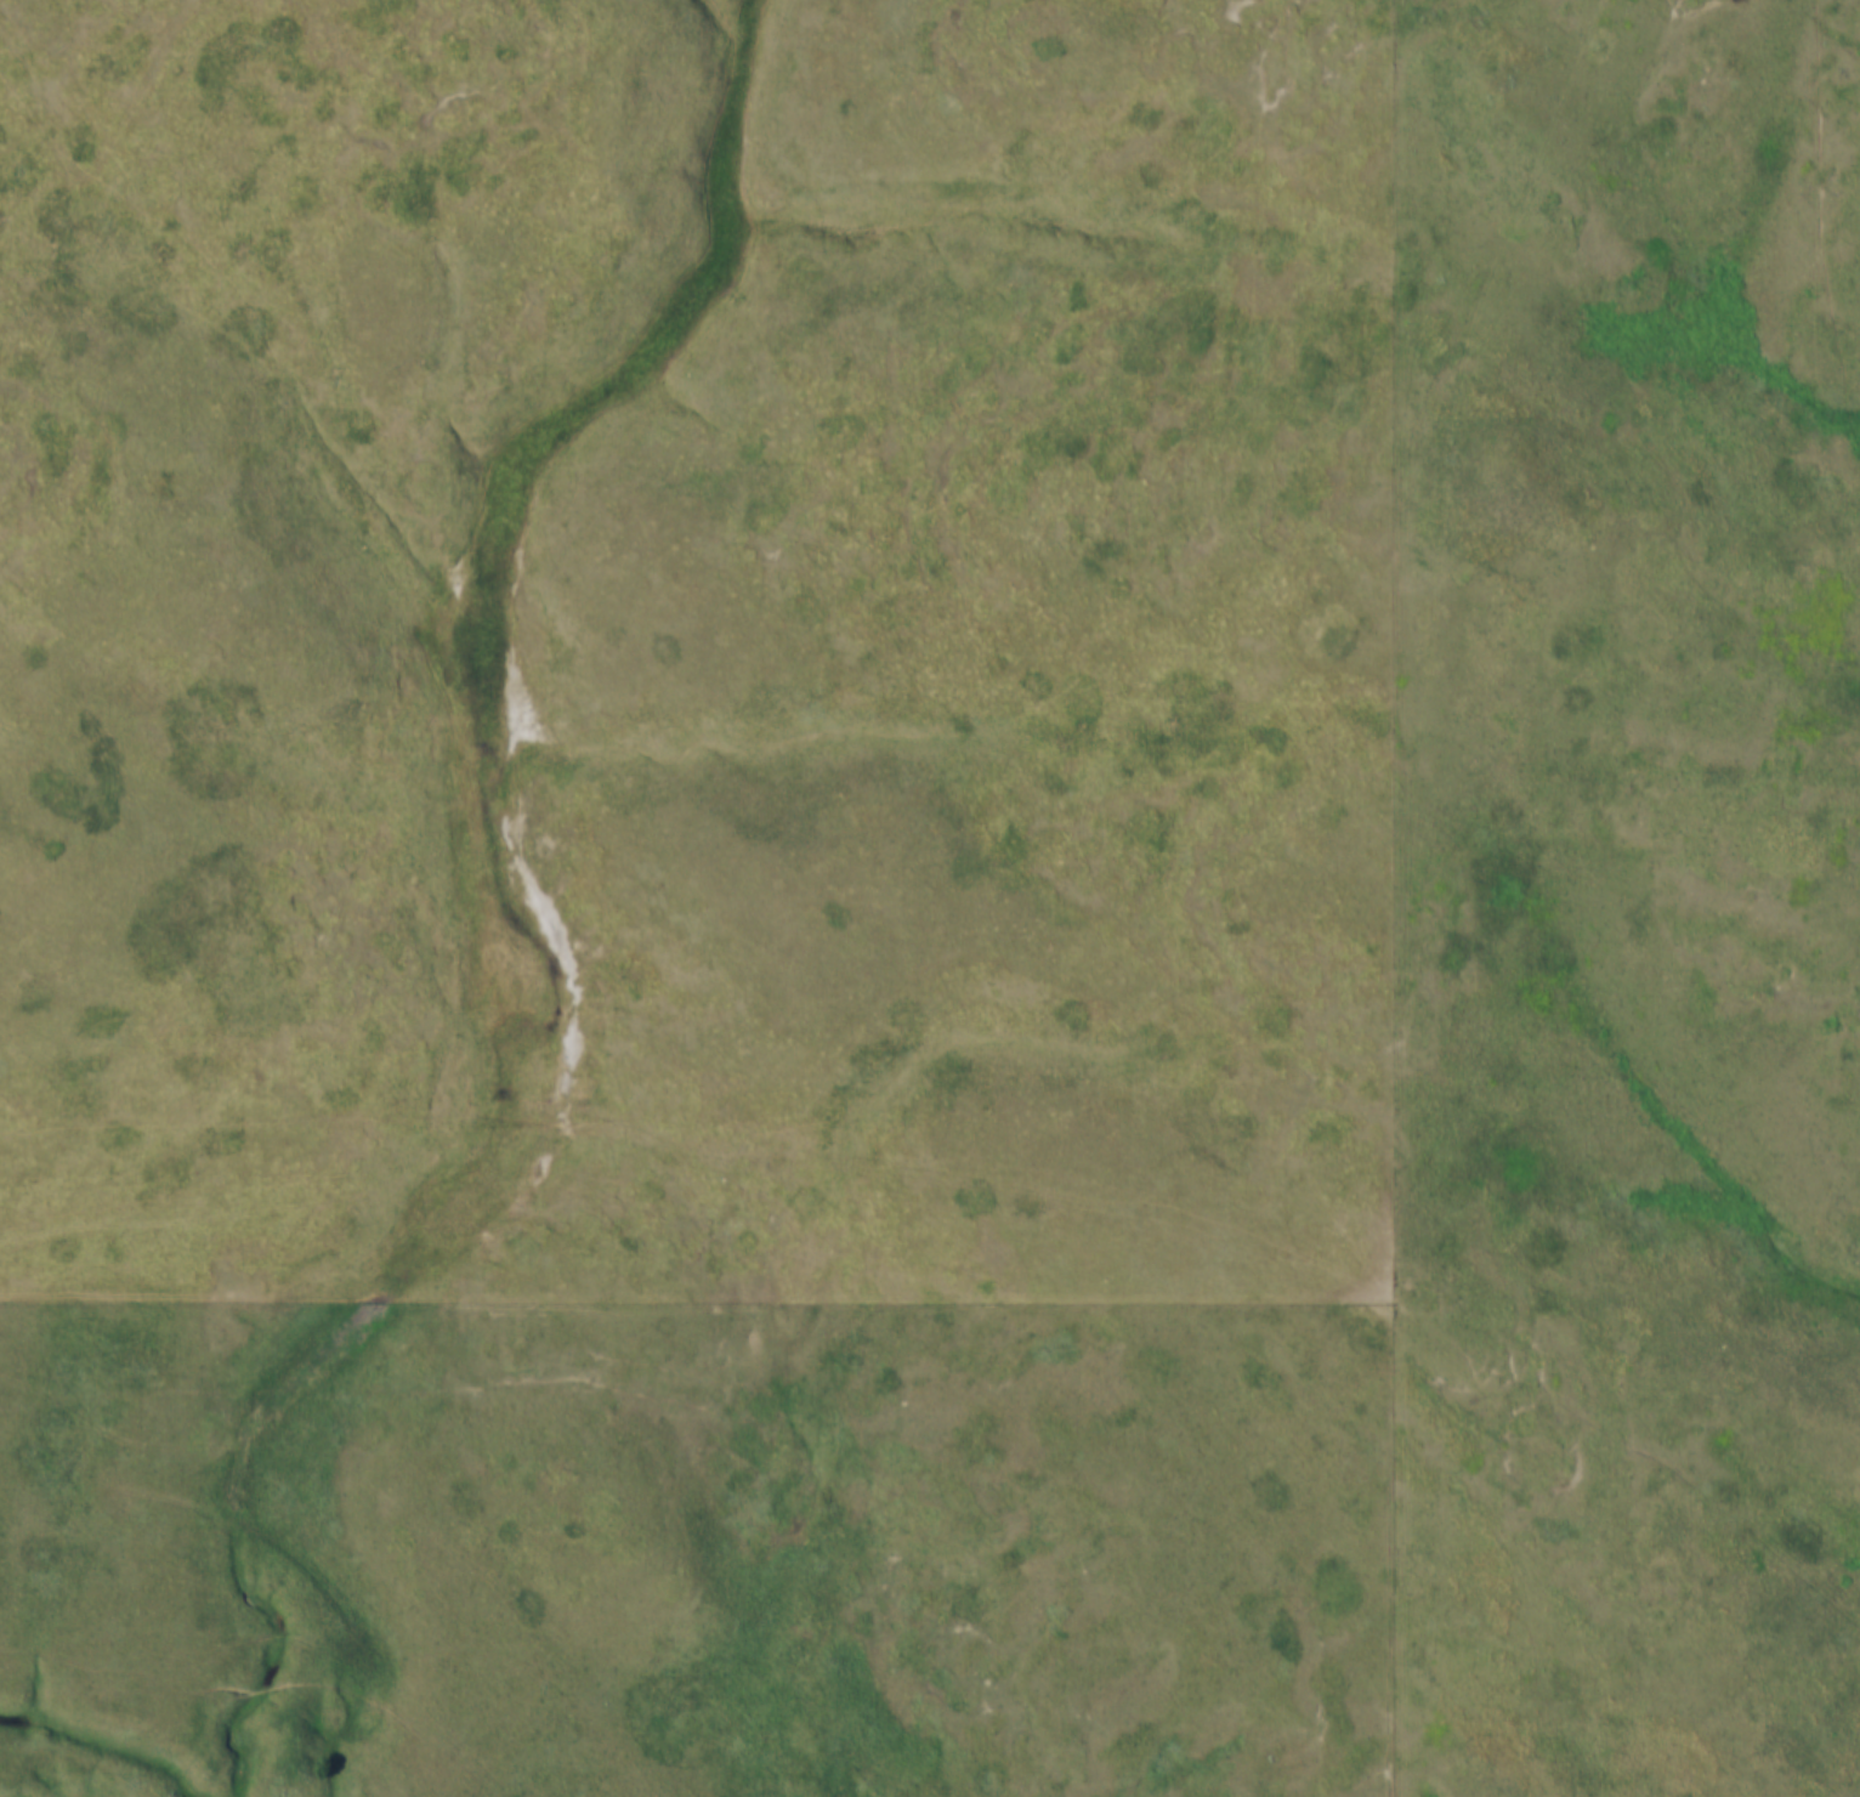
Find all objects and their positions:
road: (1408, 898)

